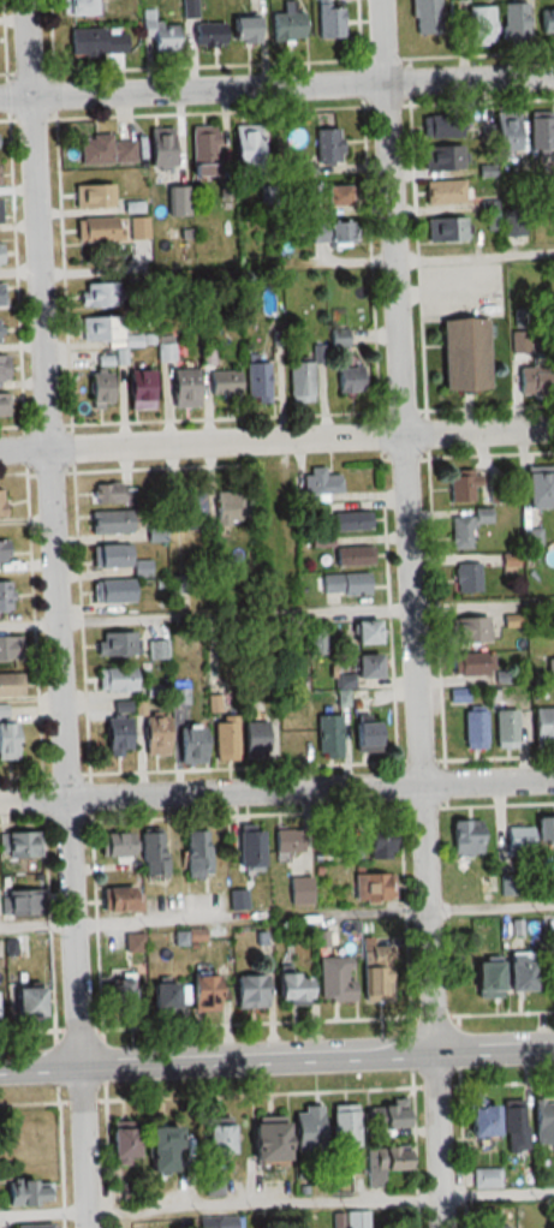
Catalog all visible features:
building: (75, 6)
building: (190, 8)
building: (425, 16)
building: (327, 19)
building: (544, 20)
building: (513, 22)
building: (286, 25)
building: (479, 25)
building: (242, 29)
building: (157, 34)
building: (205, 34)
building: (94, 41)
road: (276, 85)
building: (441, 126)
building: (504, 131)
building: (538, 133)
building: (326, 144)
building: (244, 145)
building: (160, 148)
building: (105, 149)
building: (202, 149)
building: (442, 157)
building: (443, 192)
building: (93, 195)
building: (335, 195)
building: (136, 227)
building: (96, 228)
building: (443, 229)
building: (332, 233)
road: (475, 254)
road: (442, 285)
building: (0, 294)
building: (100, 294)
building: (89, 328)
building: (461, 356)
building: (2, 369)
building: (349, 380)
building: (534, 381)
building: (222, 382)
building: (256, 382)
building: (299, 382)
building: (100, 389)
building: (138, 389)
building: (183, 389)
building: (2, 405)
road: (276, 437)
building: (323, 483)
building: (464, 488)
building: (536, 490)
building: (109, 494)
building: (1, 502)
building: (228, 506)
building: (186, 507)
building: (349, 521)
building: (111, 523)
building: (466, 526)
building: (531, 538)
building: (2, 552)
building: (351, 556)
building: (118, 560)
building: (511, 565)
building: (467, 578)
building: (344, 584)
building: (113, 592)
building: (5, 597)
road: (483, 606)
road: (56, 614)
road: (413, 614)
road: (205, 615)
building: (467, 630)
building: (362, 633)
building: (317, 640)
building: (115, 644)
building: (10, 648)
building: (470, 664)
building: (363, 667)
building: (549, 670)
building: (115, 680)
building: (8, 685)
building: (542, 727)
building: (505, 728)
building: (472, 729)
building: (288, 734)
building: (151, 735)
building: (328, 737)
building: (364, 737)
building: (224, 738)
building: (251, 738)
building: (113, 739)
building: (8, 741)
building: (190, 745)
road: (276, 786)
building: (532, 834)
building: (465, 837)
building: (287, 841)
building: (18, 845)
building: (114, 845)
building: (248, 850)
building: (352, 851)
building: (195, 853)
building: (153, 854)
building: (371, 888)
building: (299, 890)
building: (120, 899)
building: (19, 902)
road: (492, 906)
road: (147, 920)
building: (514, 971)
building: (374, 973)
building: (482, 977)
building: (332, 979)
building: (550, 979)
building: (288, 988)
building: (248, 991)
building: (199, 994)
building: (118, 995)
building: (159, 999)
building: (23, 1003)
road: (276, 1060)
building: (388, 1117)
building: (479, 1121)
building: (543, 1122)
building: (342, 1126)
building: (514, 1128)
building: (305, 1131)
building: (213, 1140)
building: (264, 1143)
building: (117, 1145)
building: (157, 1150)
building: (385, 1163)
building: (488, 1178)
building: (214, 1187)
building: (26, 1193)
road: (499, 1194)
building: (34, 1226)
building: (145, 1226)
building: (496, 1227)

